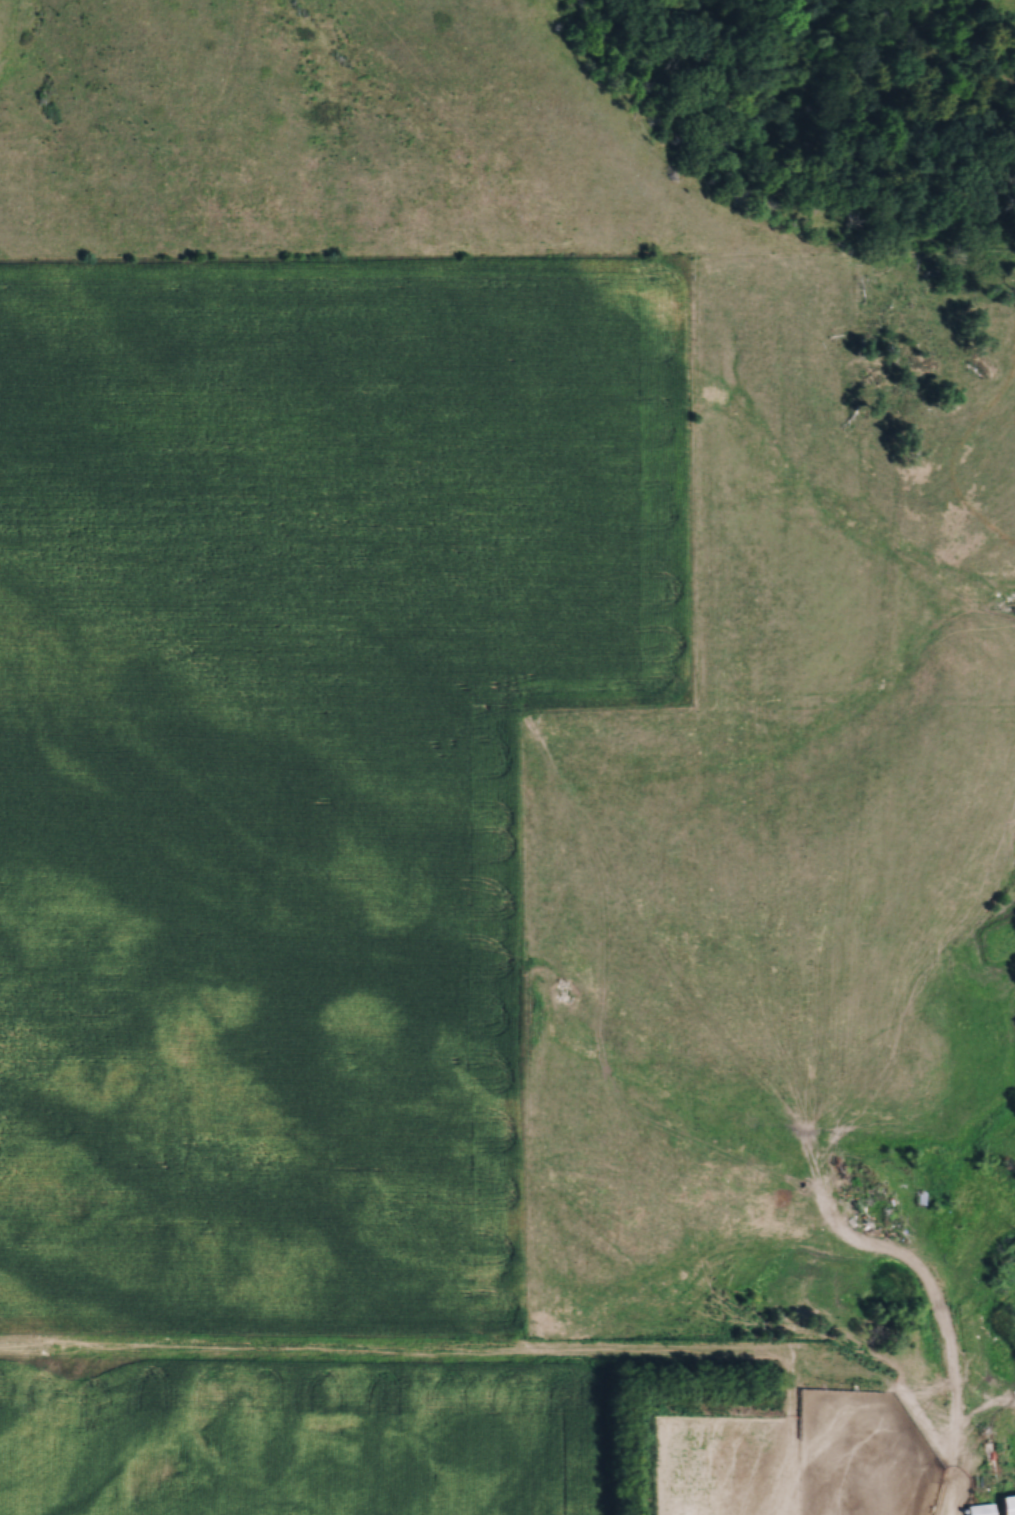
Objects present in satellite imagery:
building: (684, 1208)
building: (1006, 1504)
building: (977, 1509)

